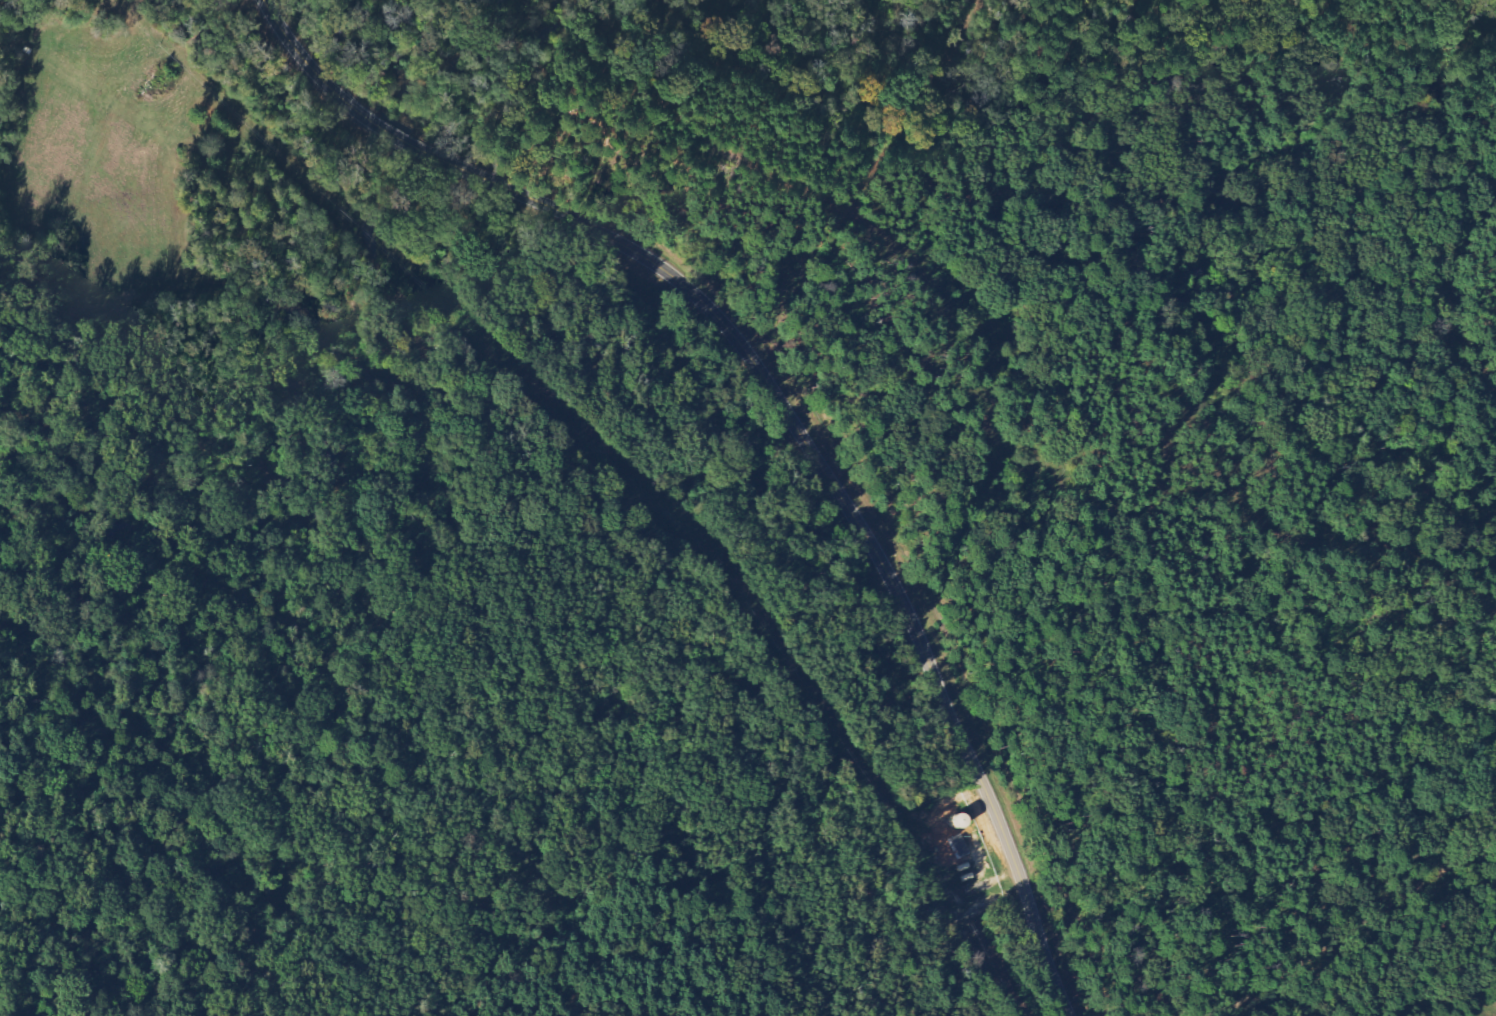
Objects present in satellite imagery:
road: (792, 403)

